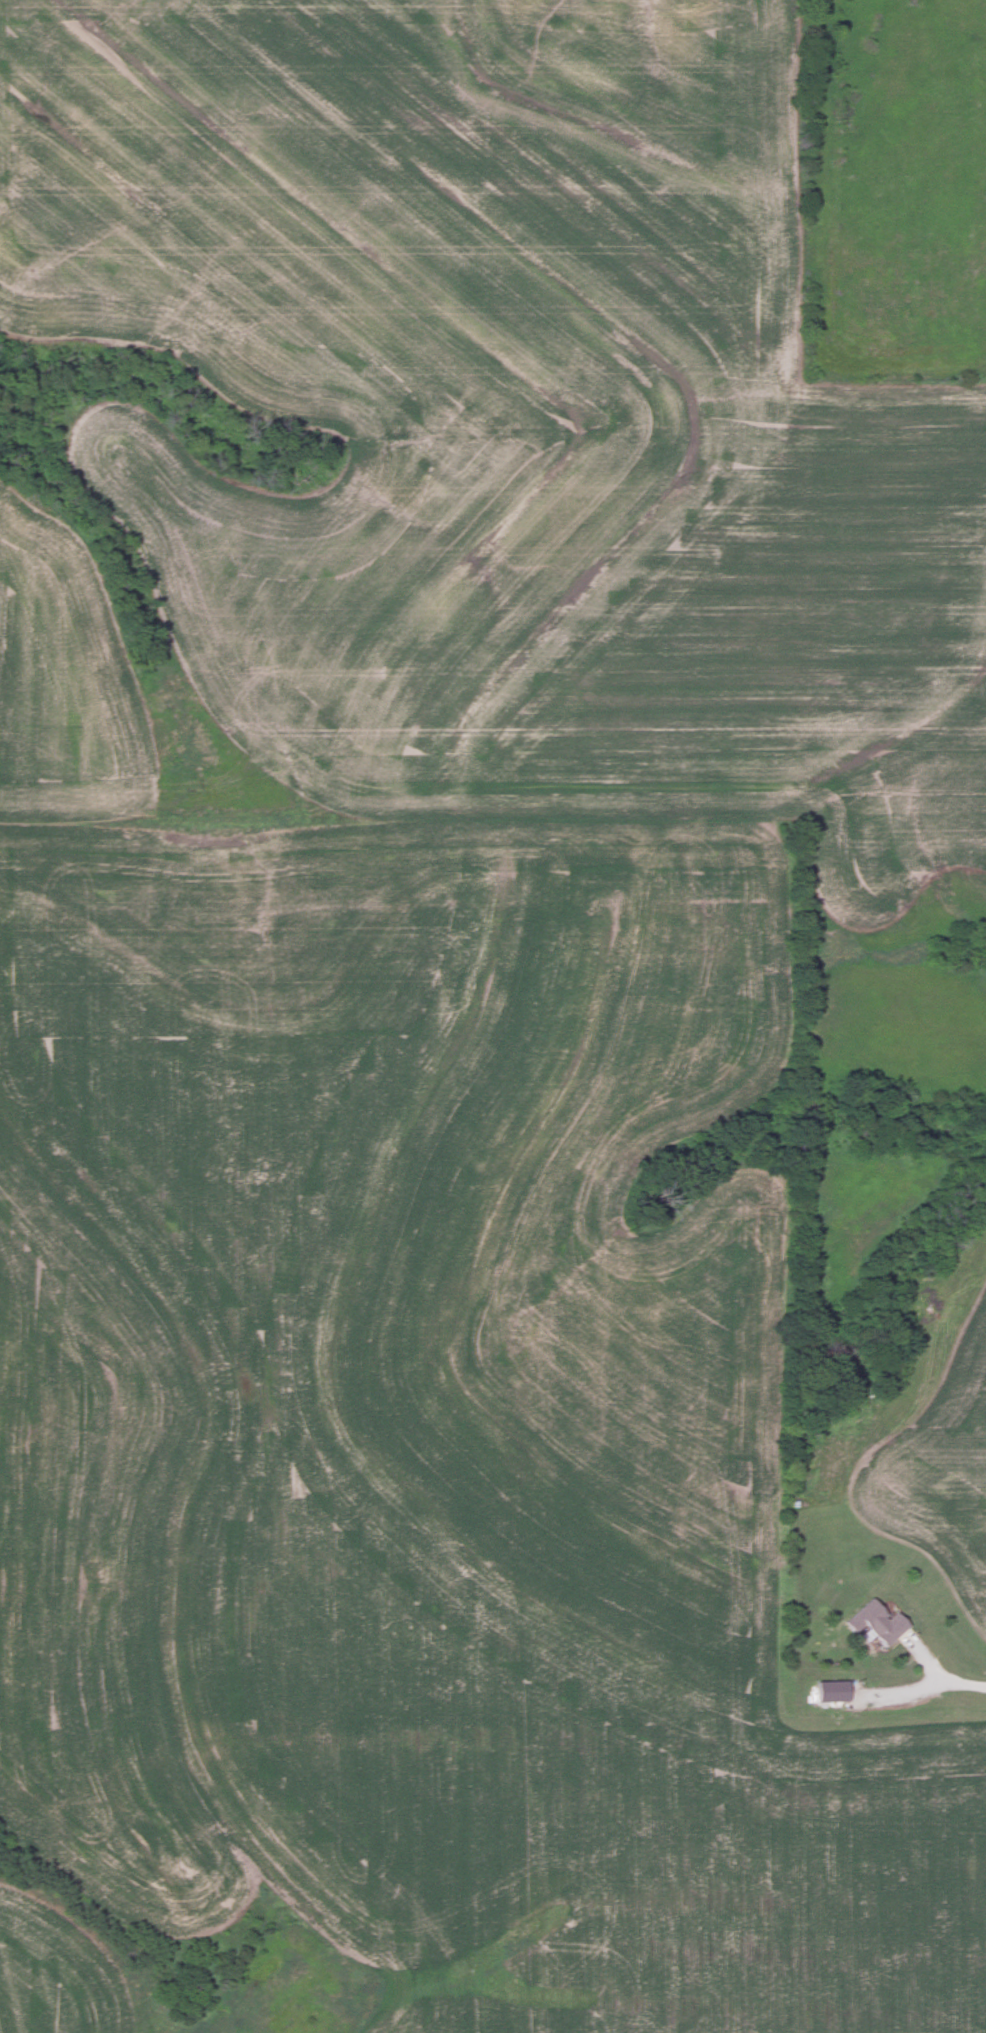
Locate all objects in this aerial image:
building: (882, 1622)
road: (940, 1680)
building: (834, 1692)

